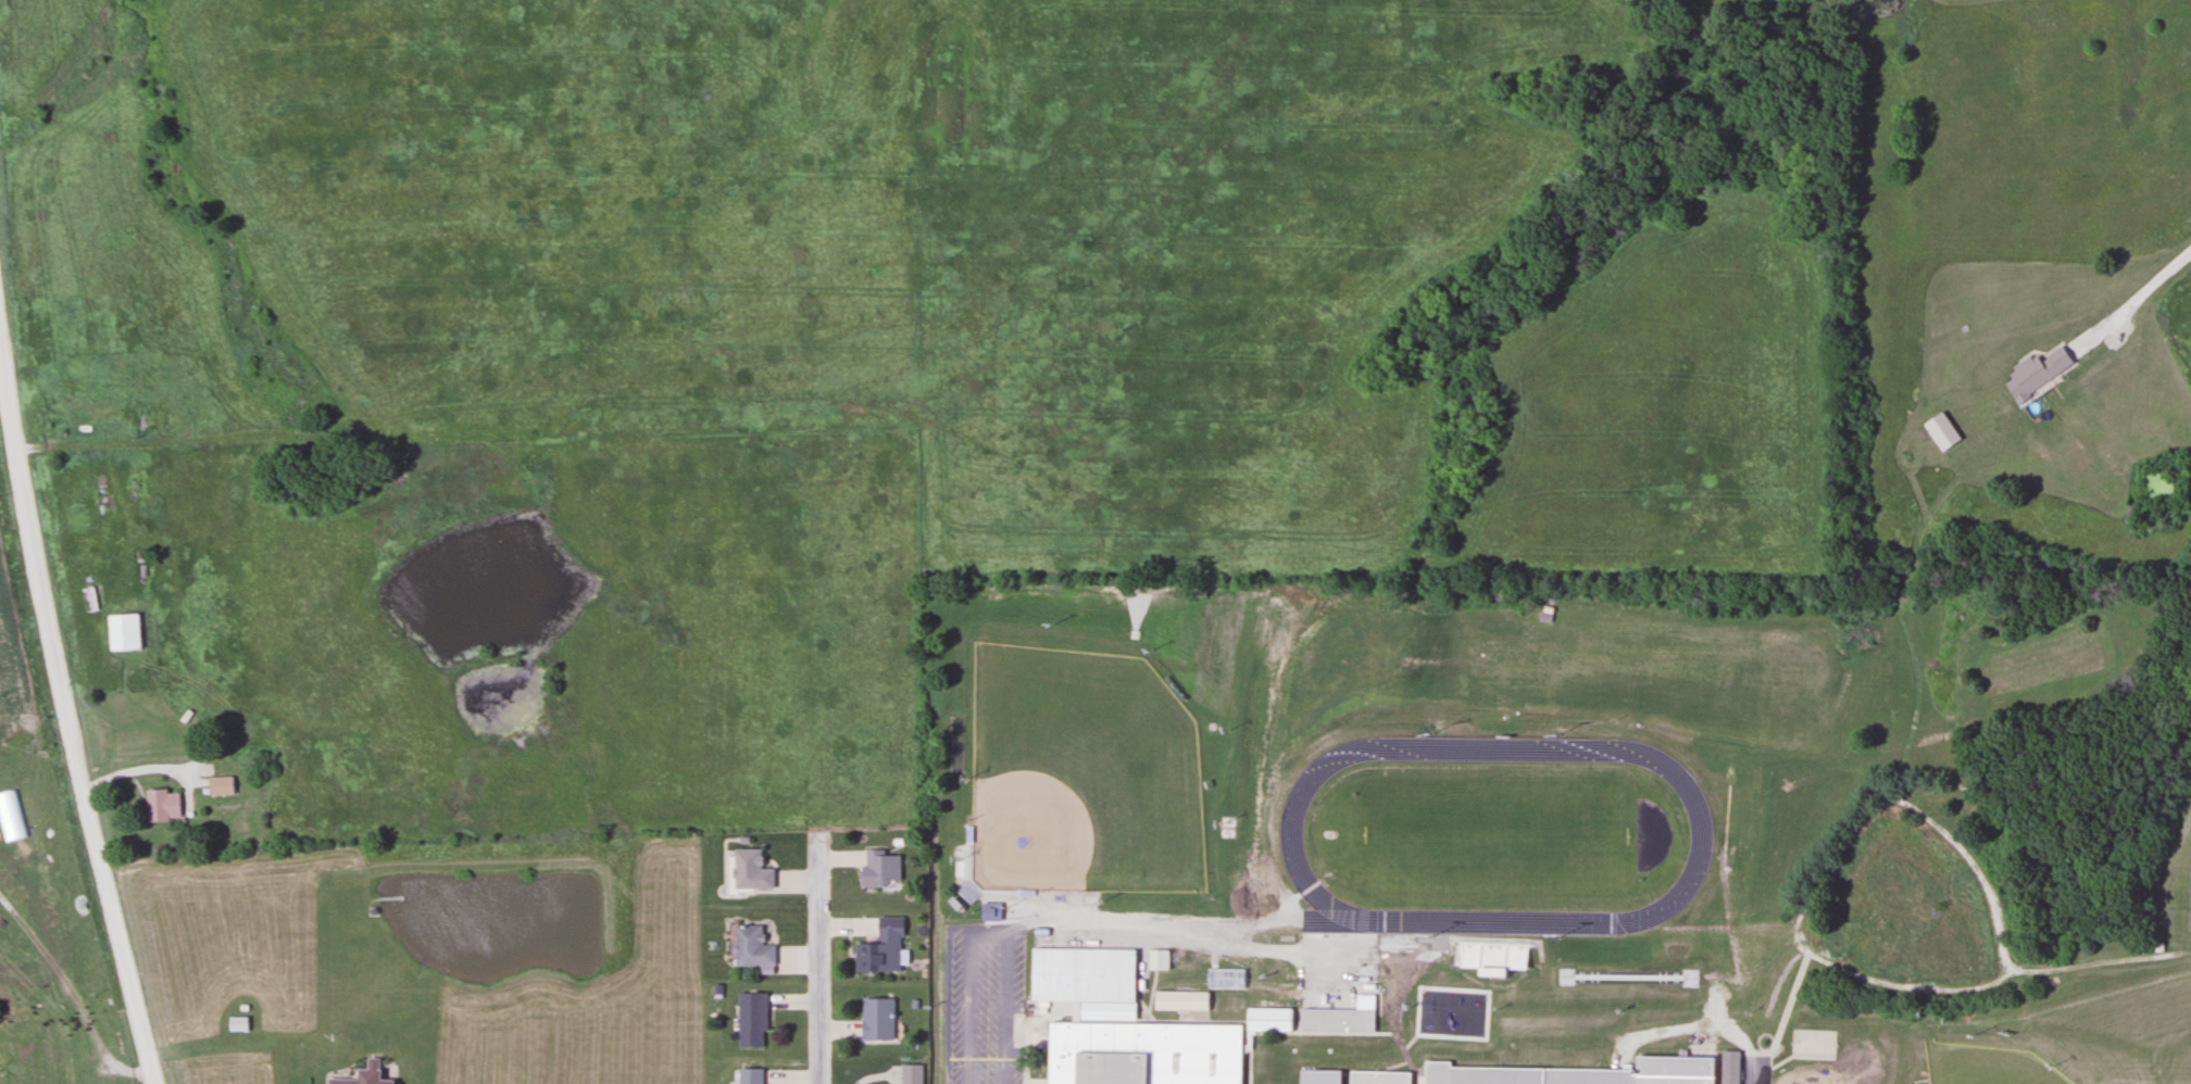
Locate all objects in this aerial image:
building: (2034, 371)
crop: (16, 629)
building: (123, 632)
road: (67, 706)
road: (148, 768)
park: (1080, 774)
building: (218, 785)
park: (2003, 803)
building: (161, 805)
park: (1493, 829)
building: (878, 867)
building: (747, 869)
building: (889, 925)
road: (987, 933)
building: (749, 946)
building: (1490, 954)
building: (866, 956)
building: (1156, 959)
road: (819, 974)
building: (1179, 999)
building: (875, 1018)
building: (749, 1019)
building: (1267, 1020)
building: (1335, 1020)
building: (237, 1023)
building: (1141, 1053)
park: (1985, 1066)
building: (1727, 1067)
building: (1580, 1074)
building: (362, 1075)
building: (747, 1075)
building: (1379, 1079)

